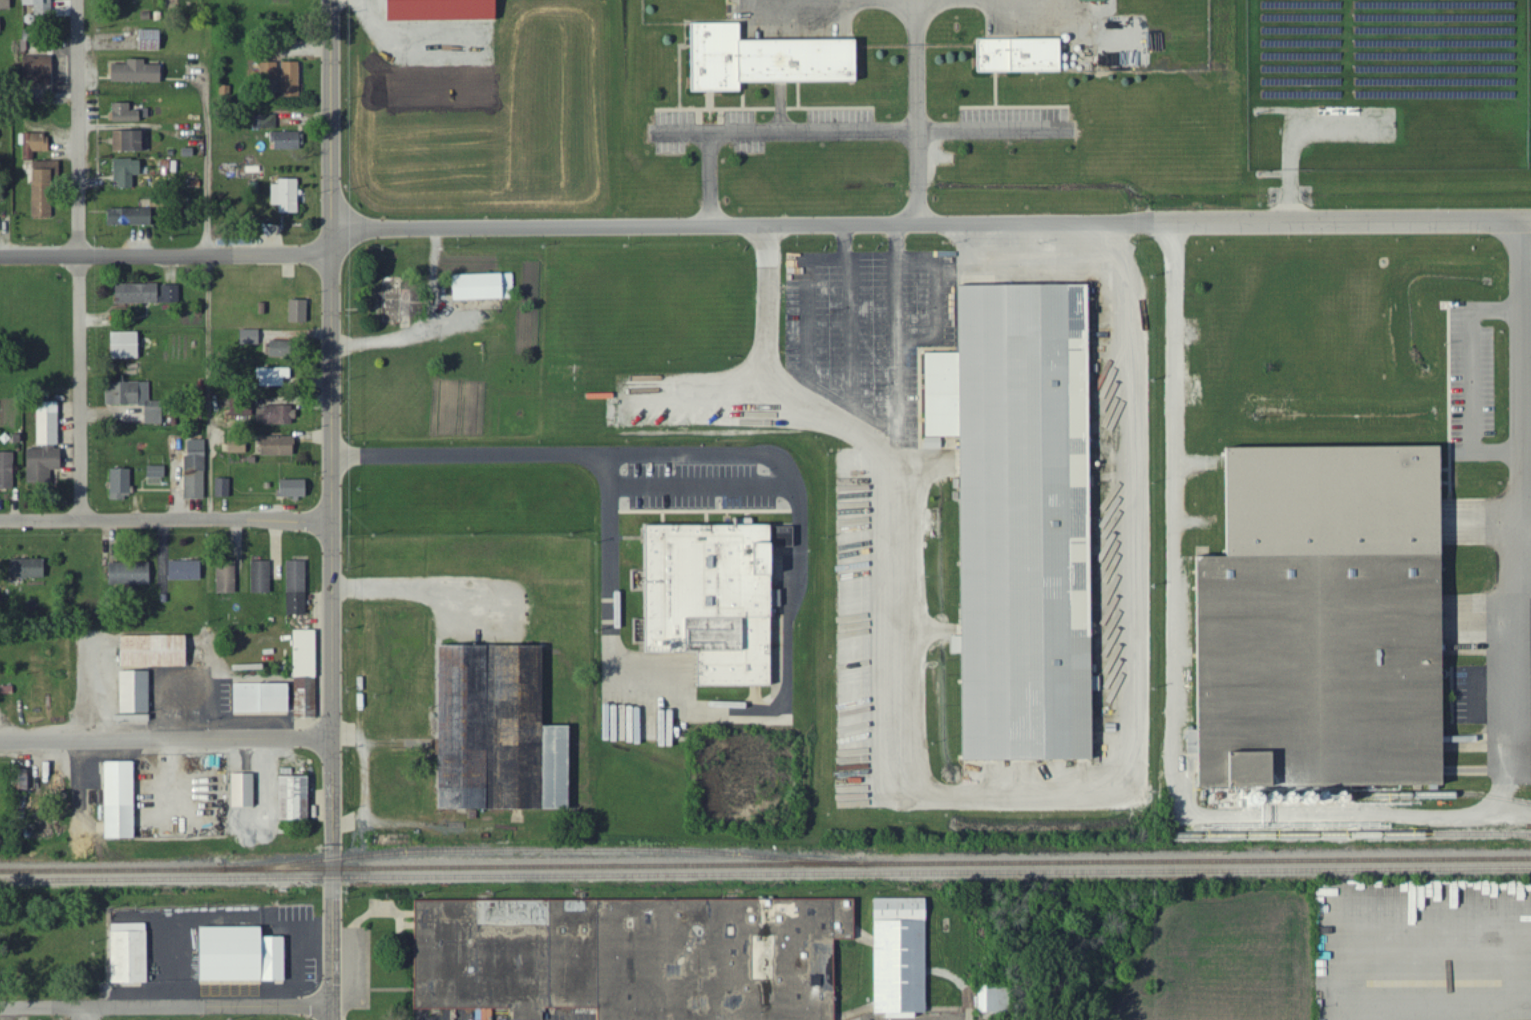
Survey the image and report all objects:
building: (44, 7)
building: (448, 10)
building: (0, 25)
building: (30, 39)
building: (151, 41)
building: (1012, 55)
building: (760, 60)
building: (40, 68)
building: (269, 71)
building: (139, 72)
building: (292, 79)
solar farm: (1387, 84)
building: (125, 113)
building: (266, 121)
building: (130, 141)
building: (287, 141)
building: (35, 144)
building: (127, 173)
building: (45, 190)
building: (287, 196)
building: (131, 217)
road: (932, 224)
road: (166, 257)
road: (79, 260)
building: (486, 287)
building: (148, 294)
road: (934, 298)
building: (396, 301)
building: (299, 311)
road: (847, 330)
road: (807, 334)
building: (251, 337)
road: (894, 339)
building: (128, 346)
building: (281, 349)
building: (274, 377)
road: (1465, 379)
road: (209, 389)
building: (136, 399)
building: (241, 407)
building: (277, 416)
building: (47, 447)
building: (240, 447)
building: (280, 447)
building: (196, 469)
building: (7, 471)
building: (157, 476)
building: (121, 484)
building: (222, 488)
building: (294, 489)
building: (1026, 507)
road: (333, 509)
road: (166, 521)
building: (29, 569)
building: (186, 571)
building: (130, 574)
building: (262, 578)
building: (228, 579)
road: (410, 581)
building: (297, 589)
building: (706, 597)
building: (157, 652)
building: (285, 684)
building: (137, 692)
building: (637, 723)
building: (504, 733)
road: (166, 739)
building: (1222, 771)
building: (245, 791)
road: (971, 795)
building: (296, 799)
building: (122, 801)
road: (1341, 811)
railway: (1349, 834)
railway: (542, 850)
railway: (765, 864)
railway: (817, 873)
railway: (51, 879)
building: (132, 954)
building: (244, 956)
building: (632, 957)
building: (895, 958)
building: (990, 999)
road: (166, 1008)
road: (86, 1014)
park: (208, 1016)

